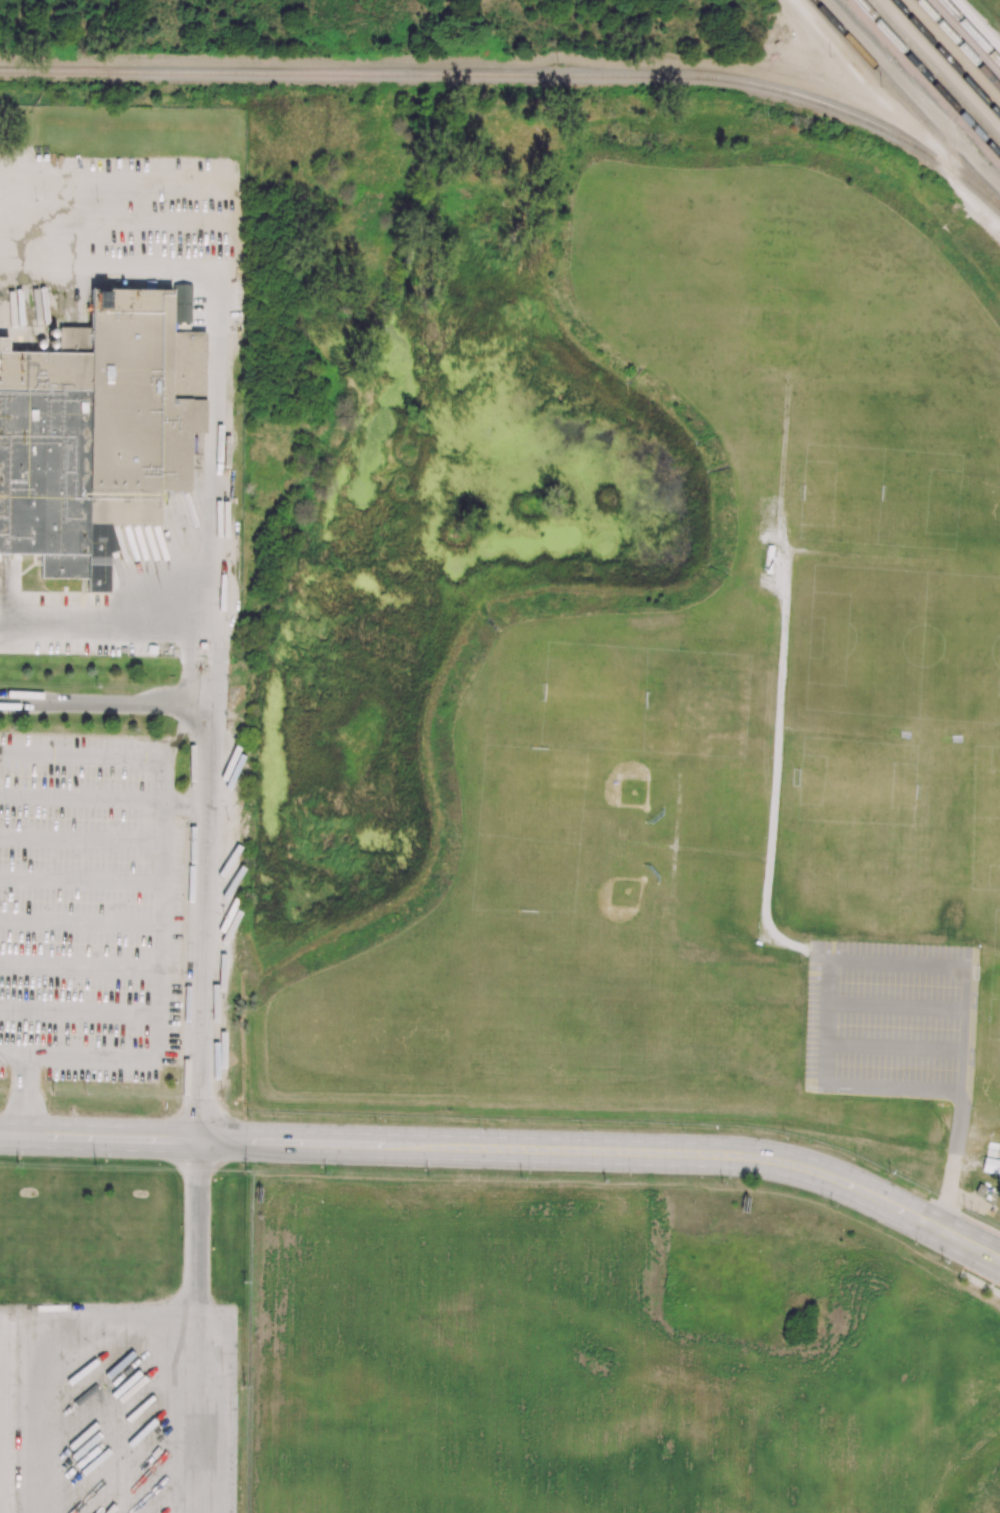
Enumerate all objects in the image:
railway: (970, 32)
railway: (960, 43)
railway: (947, 57)
railway: (935, 69)
railway: (516, 75)
railway: (929, 77)
railway: (907, 100)
park: (690, 275)
park: (887, 316)
road: (211, 349)
building: (97, 433)
road: (782, 449)
park: (903, 463)
road: (854, 557)
road: (106, 633)
road: (205, 634)
road: (783, 639)
building: (203, 644)
park: (898, 647)
road: (203, 694)
park: (732, 710)
road: (843, 733)
road: (103, 756)
park: (633, 786)
road: (773, 793)
road: (82, 797)
road: (183, 800)
park: (721, 804)
road: (678, 810)
park: (532, 822)
park: (848, 822)
road: (200, 828)
park: (934, 828)
road: (82, 837)
road: (650, 845)
park: (994, 845)
road: (722, 853)
road: (672, 873)
road: (81, 877)
park: (715, 891)
park: (625, 904)
parking lot: (90, 906)
road: (81, 919)
road: (766, 924)
road: (80, 963)
road: (893, 965)
park: (451, 969)
park: (592, 972)
road: (160, 992)
park: (739, 1000)
park: (993, 1000)
road: (891, 1006)
road: (80, 1008)
parking lot: (889, 1020)
road: (813, 1023)
road: (967, 1030)
park: (586, 1046)
road: (889, 1047)
road: (14, 1052)
park: (735, 1056)
road: (887, 1088)
road: (26, 1100)
road: (510, 1139)
road: (512, 1161)
road: (953, 1165)
building: (990, 1166)
road: (979, 1283)
road: (195, 1333)
parking lot: (117, 1407)

